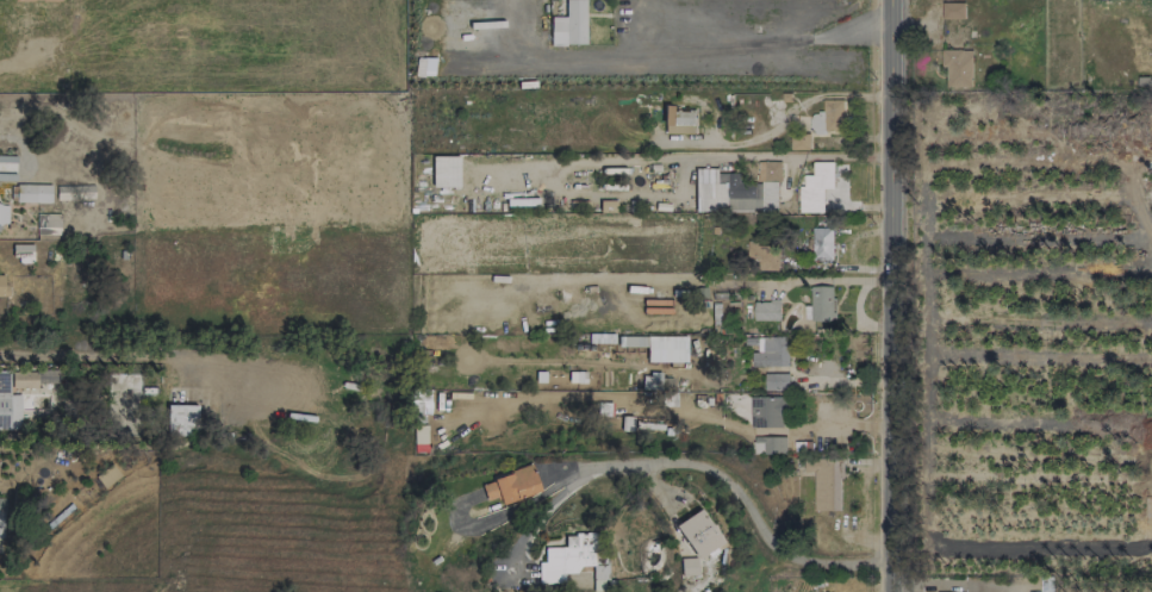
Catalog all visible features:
building: (36, 0)
building: (952, 11)
building: (569, 25)
road: (679, 51)
building: (957, 67)
building: (678, 117)
building: (827, 117)
building: (767, 170)
building: (444, 172)
building: (815, 185)
building: (730, 189)
building: (32, 193)
building: (4, 214)
building: (48, 224)
building: (820, 244)
building: (760, 256)
building: (1, 285)
road: (891, 295)
building: (821, 303)
building: (765, 310)
building: (666, 349)
building: (770, 351)
road: (123, 354)
building: (35, 378)
building: (652, 381)
building: (776, 381)
building: (8, 404)
building: (767, 411)
building: (181, 419)
building: (768, 444)
building: (826, 484)
building: (511, 486)
road: (655, 488)
road: (745, 505)
road: (542, 510)
building: (1, 517)
building: (698, 534)
building: (565, 559)
building: (689, 566)

